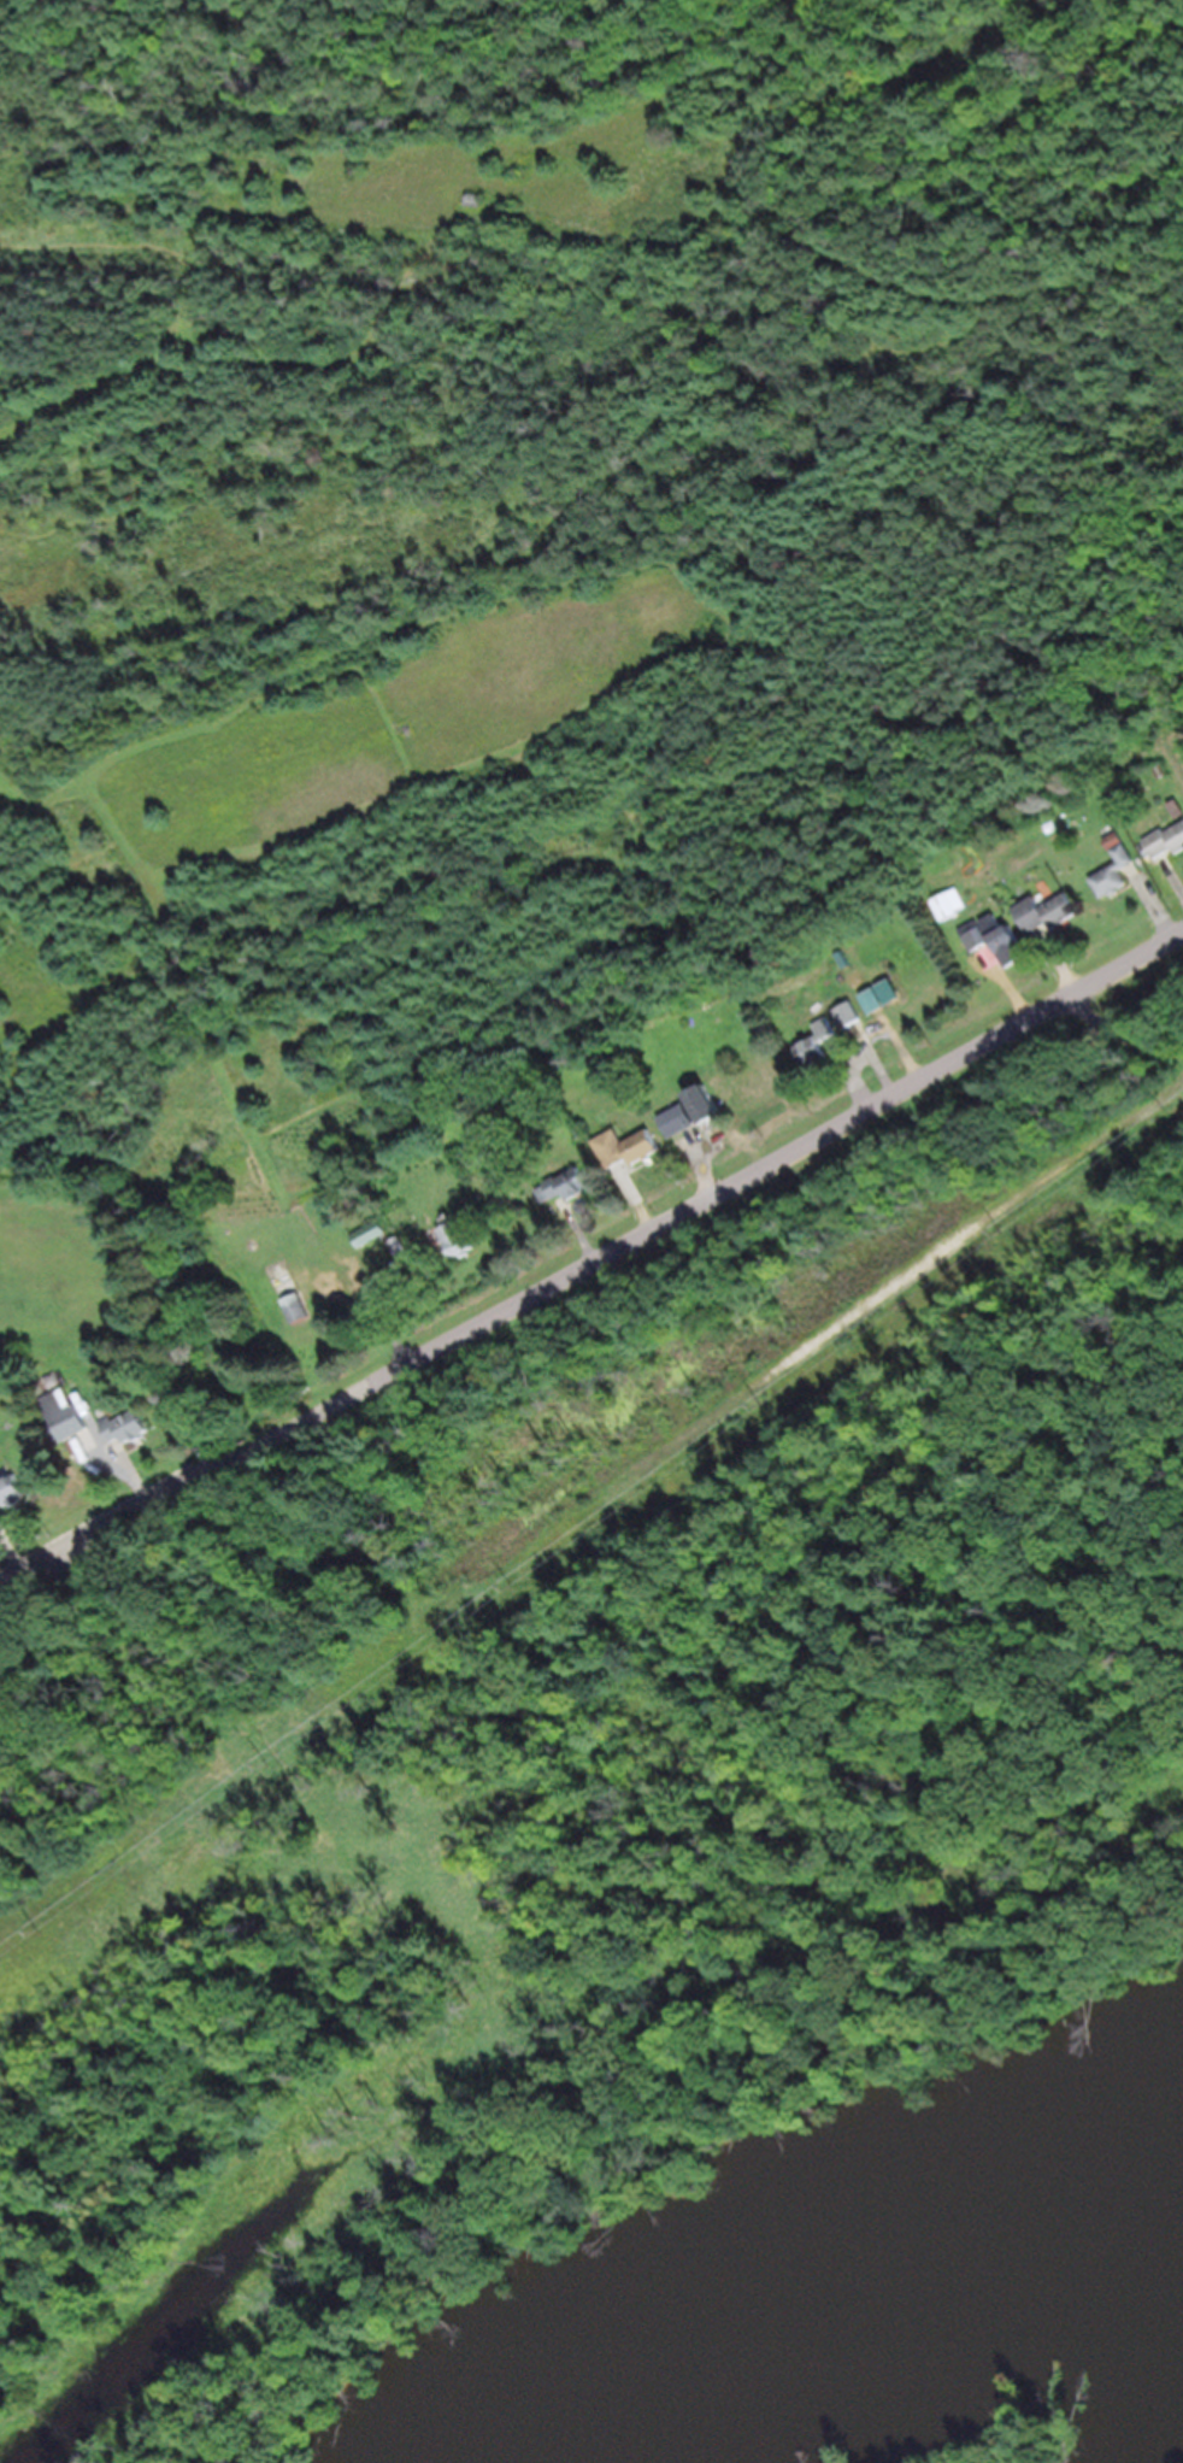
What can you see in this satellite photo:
building: (1178, 807)
building: (1113, 835)
building: (1166, 840)
building: (1116, 871)
building: (949, 903)
building: (1048, 912)
building: (1002, 933)
building: (975, 934)
building: (684, 1005)
building: (848, 1012)
road: (1124, 1025)
building: (817, 1042)
building: (672, 1070)
building: (704, 1101)
building: (675, 1118)
building: (624, 1146)
building: (567, 1182)
building: (371, 1231)
building: (457, 1236)
building: (399, 1245)
road: (591, 1260)
building: (289, 1291)
building: (69, 1416)
building: (126, 1426)
building: (12, 1489)

